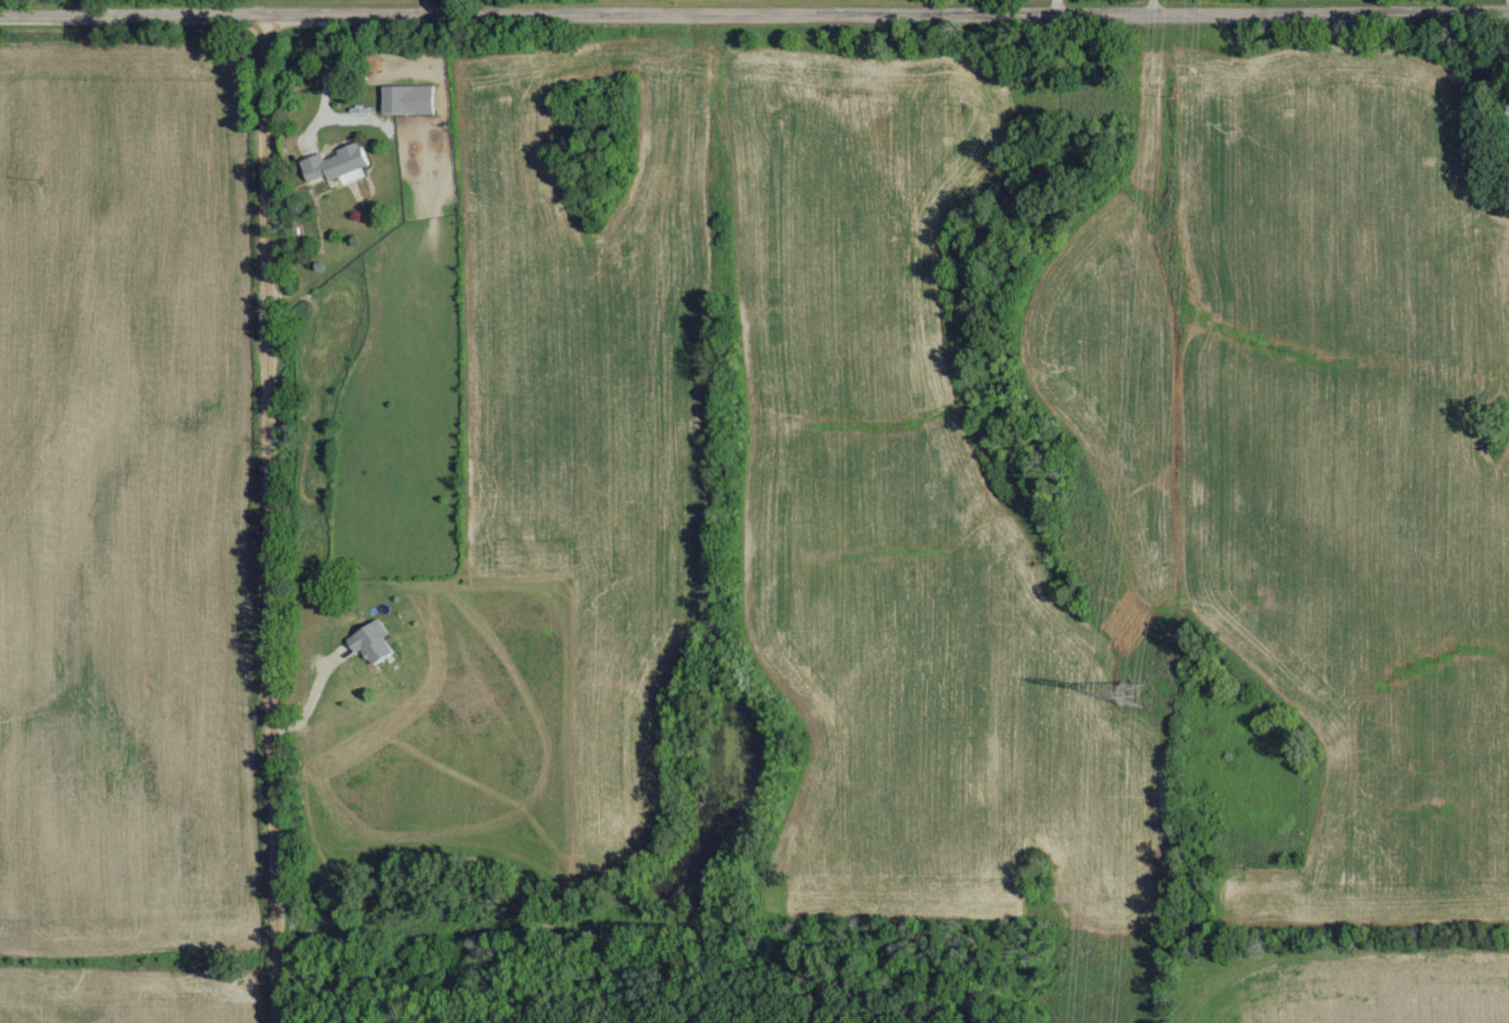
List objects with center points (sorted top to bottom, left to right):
road: (1385, 6)
road: (425, 7)
road: (754, 14)
building: (410, 98)
building: (1506, 110)
building: (337, 161)
road: (271, 518)
building: (371, 640)
power tower: (1130, 692)
road: (309, 694)

